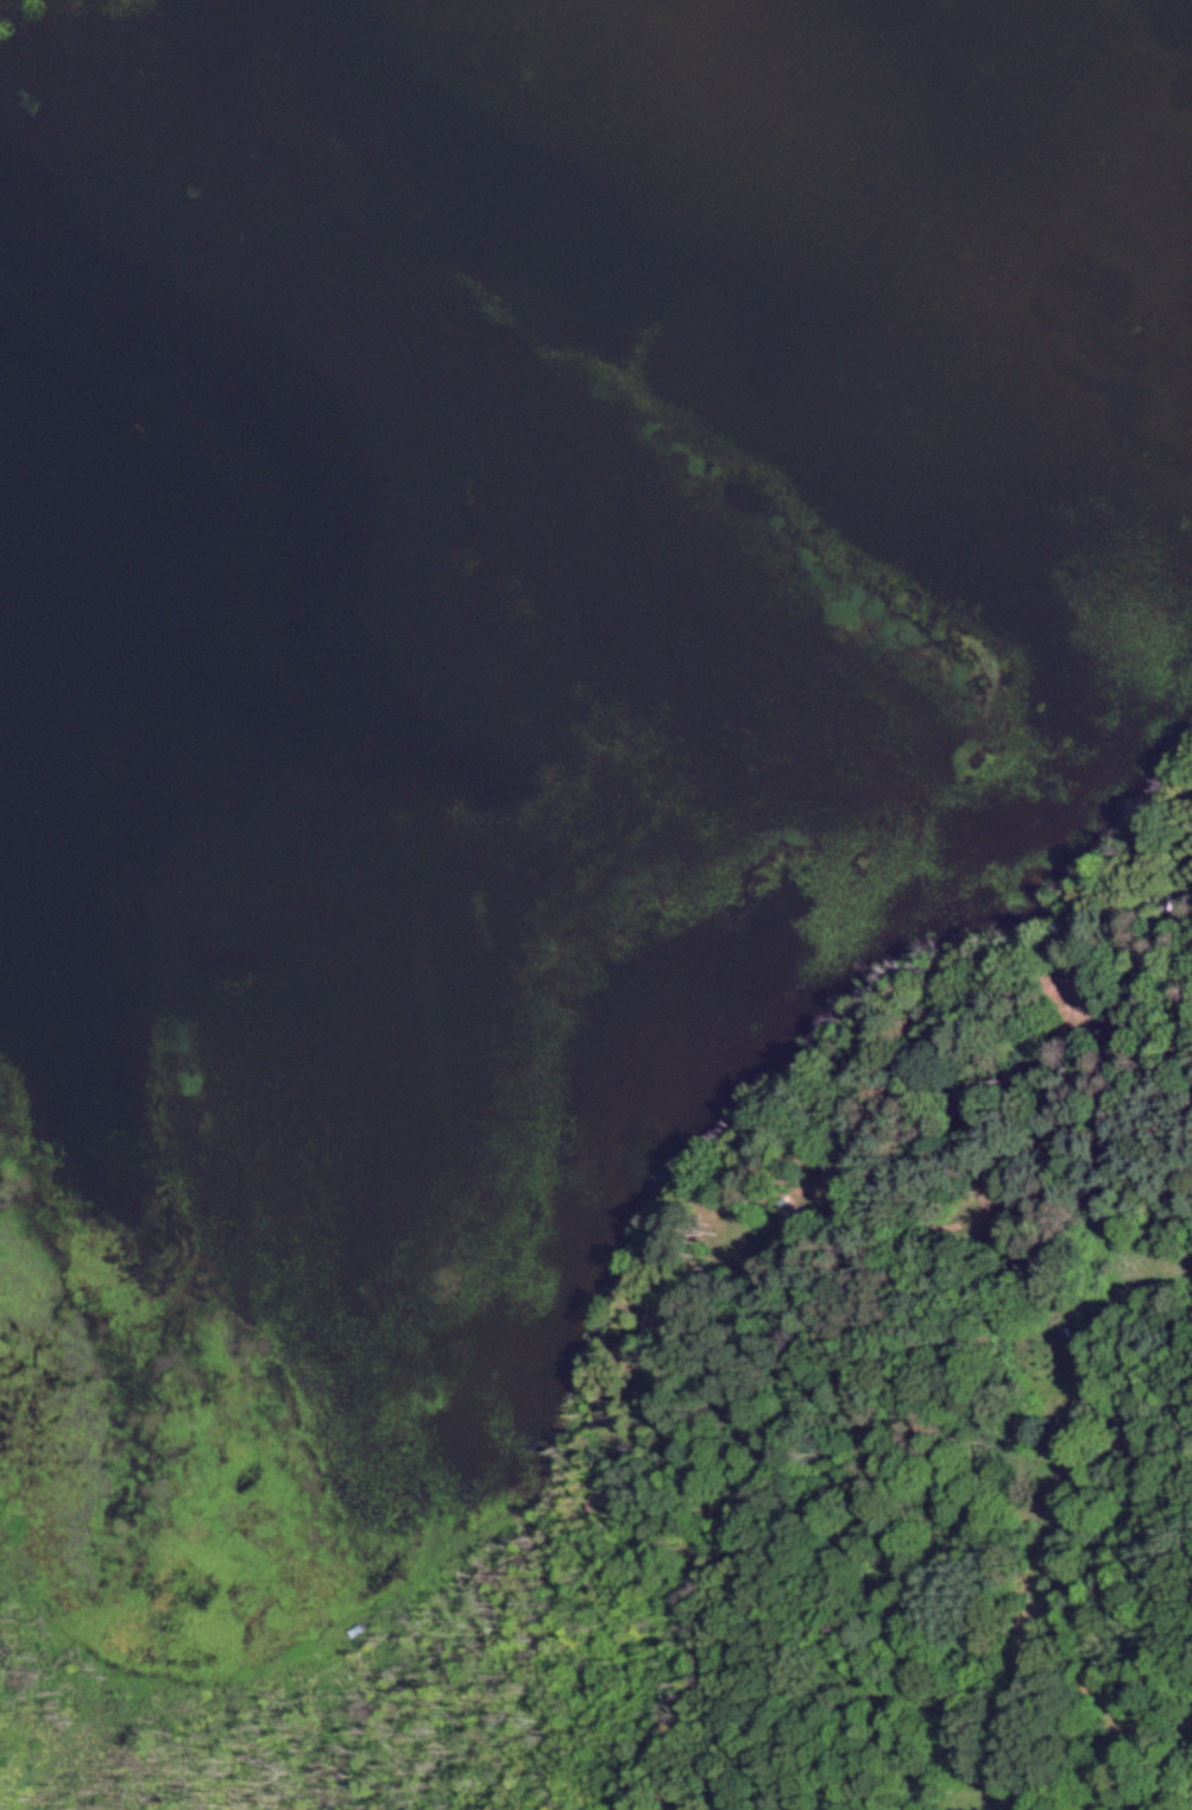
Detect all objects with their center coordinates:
building: (1060, 1055)
road: (1039, 1112)

